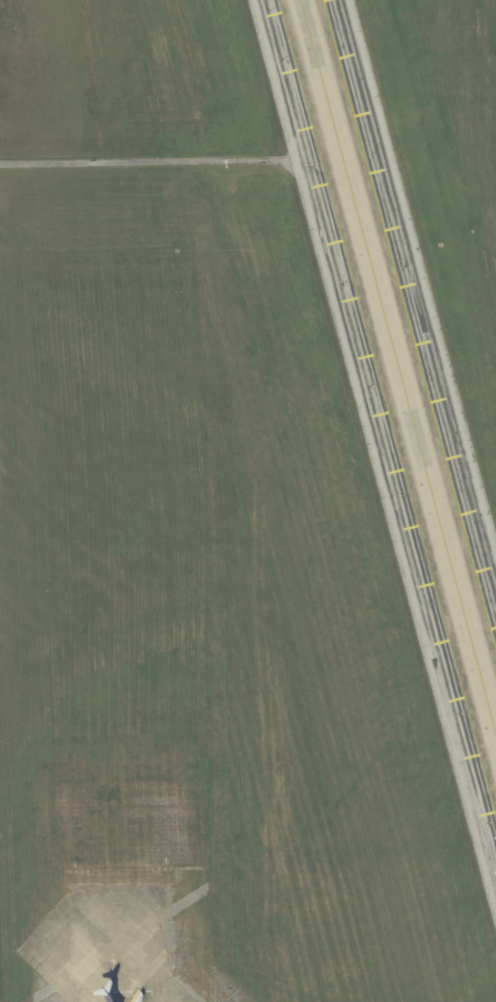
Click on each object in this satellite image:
railway: (250, 356)
airport taxiway: (398, 367)
airport: (248, 501)

